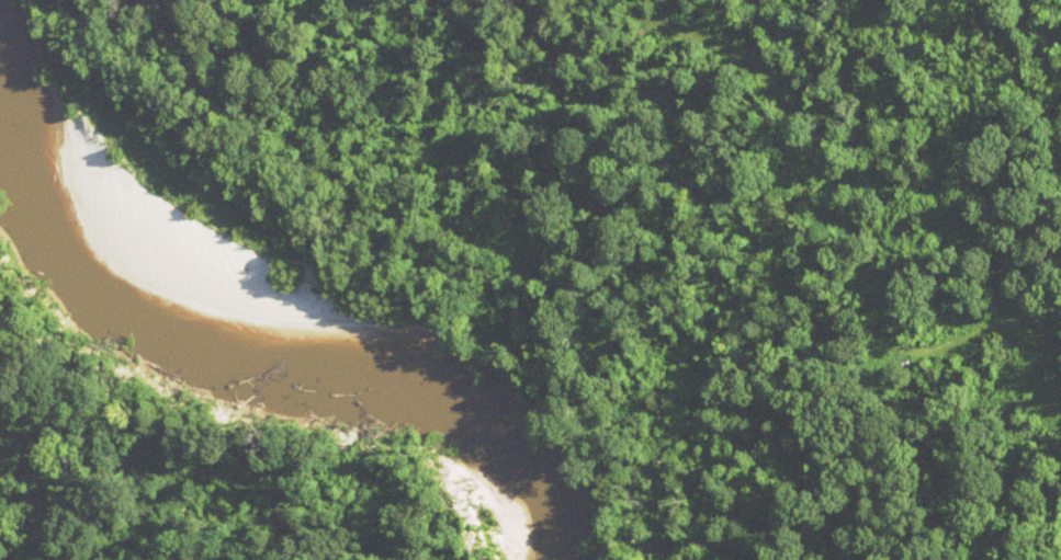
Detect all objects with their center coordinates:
river: (293, 292)

